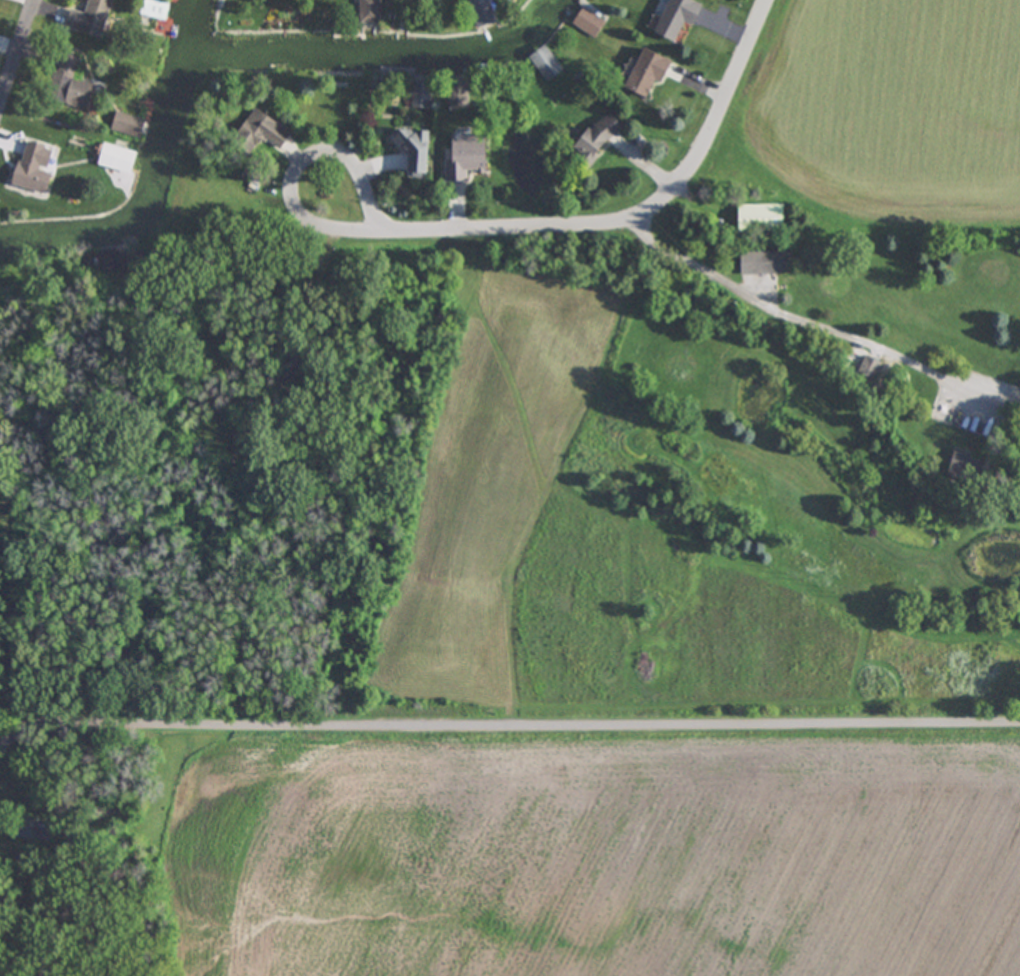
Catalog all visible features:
building: (366, 11)
building: (477, 12)
building: (671, 18)
building: (87, 19)
building: (586, 23)
road: (19, 59)
building: (543, 64)
building: (640, 73)
building: (66, 85)
road: (717, 123)
building: (125, 125)
building: (255, 134)
building: (589, 140)
building: (408, 151)
building: (461, 158)
building: (114, 160)
building: (30, 169)
building: (758, 218)
road: (374, 224)
building: (106, 262)
building: (760, 263)
road: (780, 314)
building: (868, 368)
road: (505, 738)

